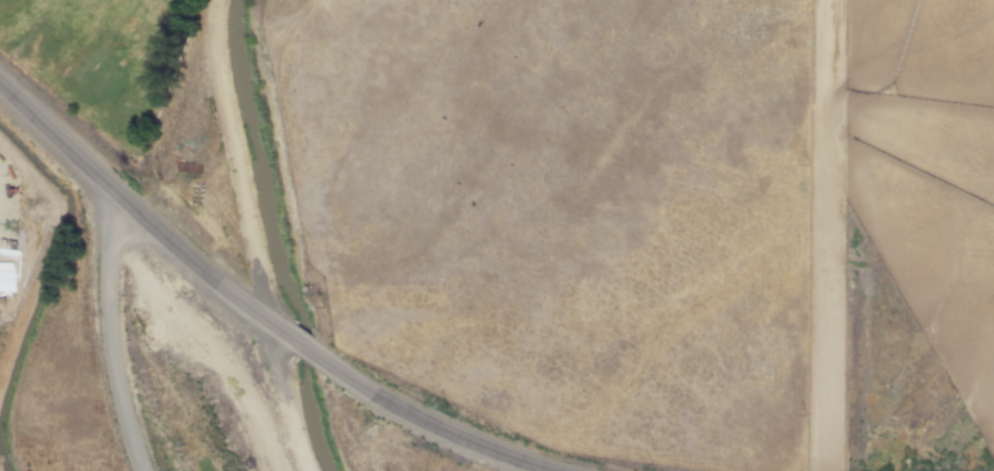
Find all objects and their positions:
crop: (95, 54)
road: (284, 181)
road: (2, 192)
road: (140, 216)
road: (818, 235)
road: (253, 237)
road: (110, 339)
road: (301, 347)
road: (206, 351)
road: (426, 422)

